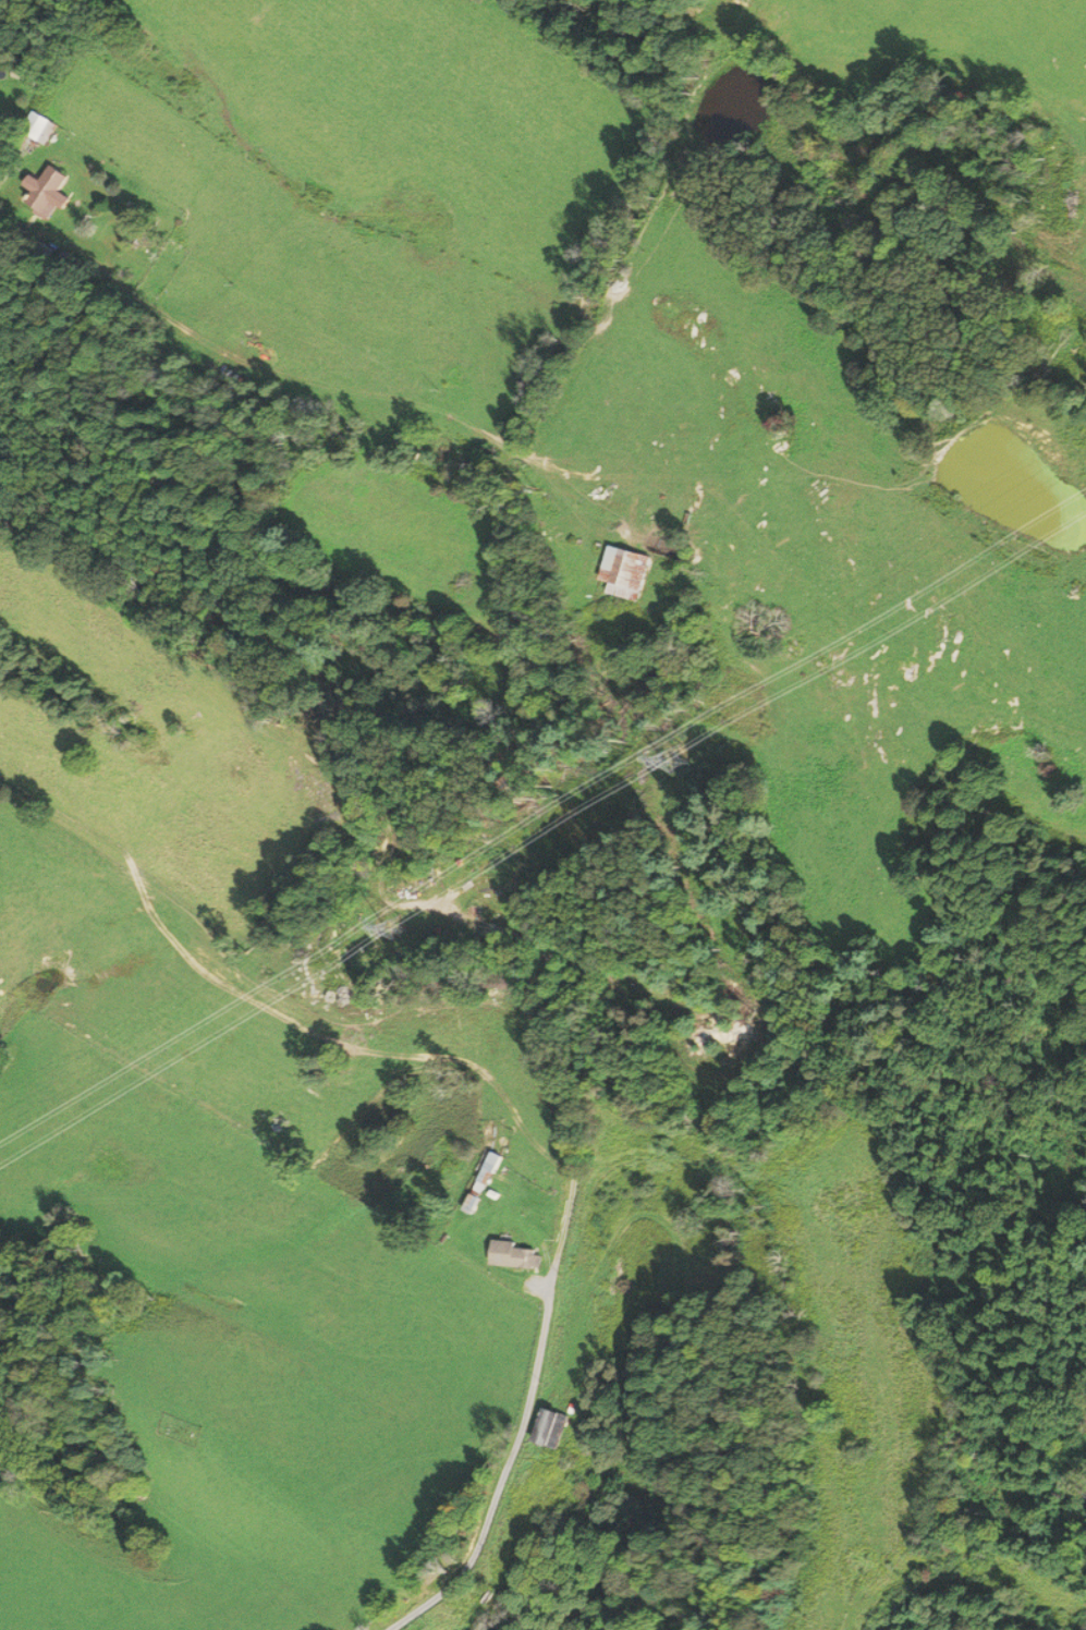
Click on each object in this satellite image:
building: (40, 127)
building: (47, 192)
building: (625, 572)
power tower: (697, 764)
power tower: (415, 930)
building: (516, 1256)
road: (534, 1374)
building: (552, 1426)

